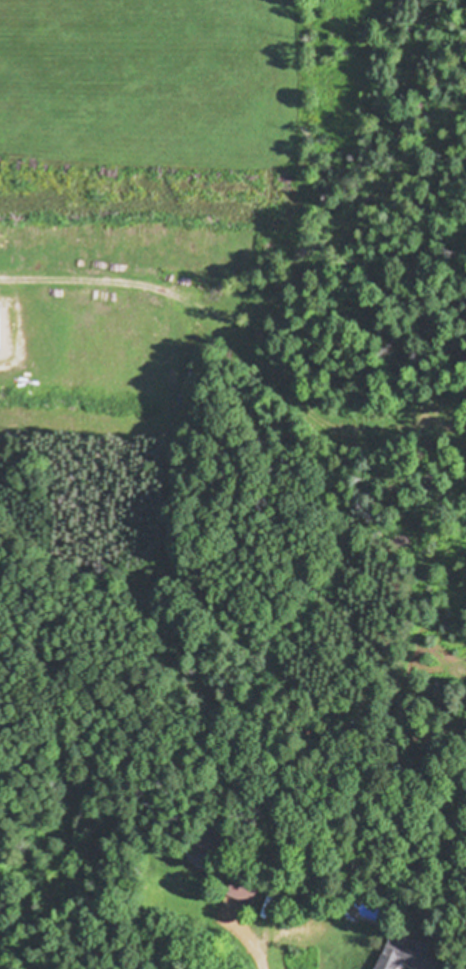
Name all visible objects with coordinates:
building: (244, 889)
road: (253, 945)
building: (408, 956)

